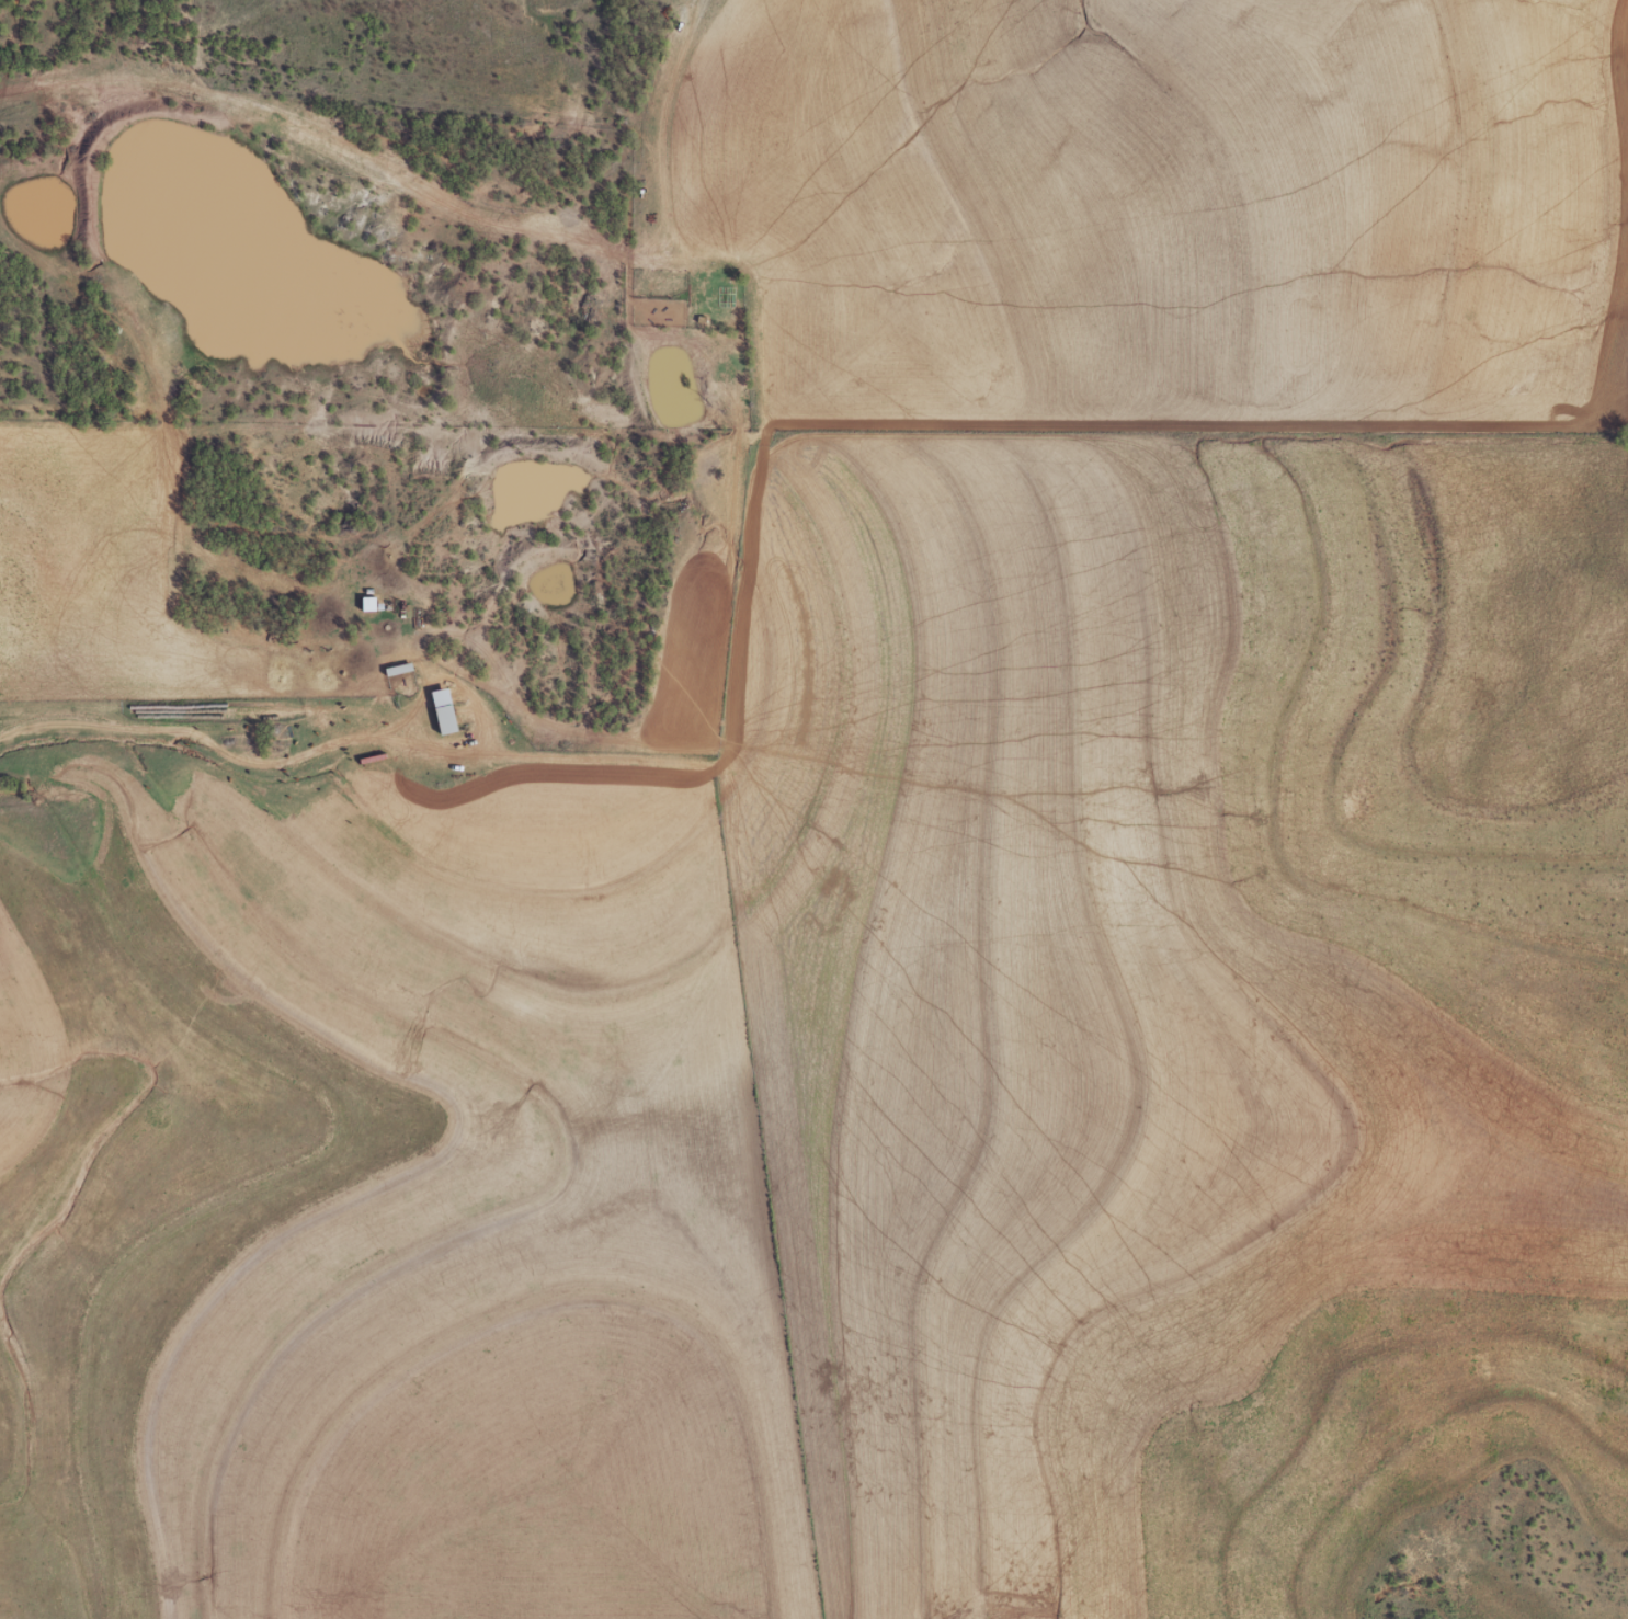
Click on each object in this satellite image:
building: (443, 720)

